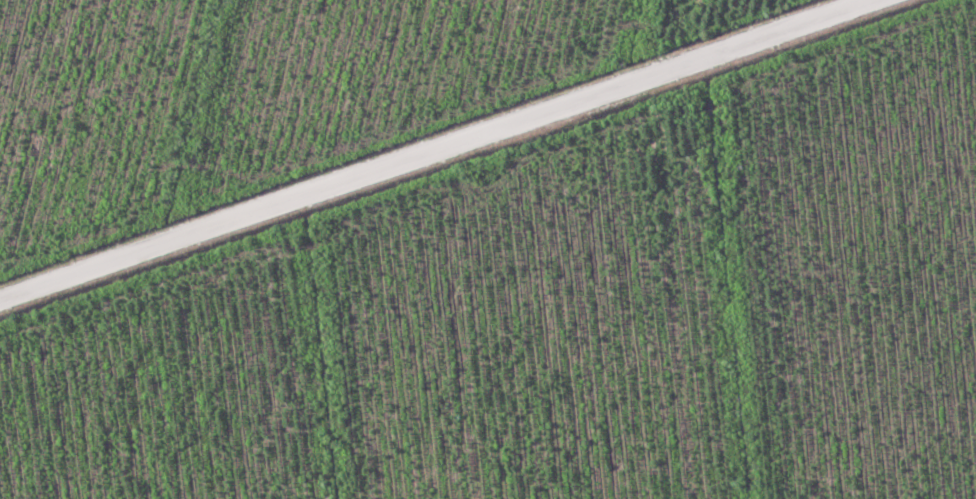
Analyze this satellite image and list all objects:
road: (364, 278)
road: (753, 326)
road: (351, 393)

